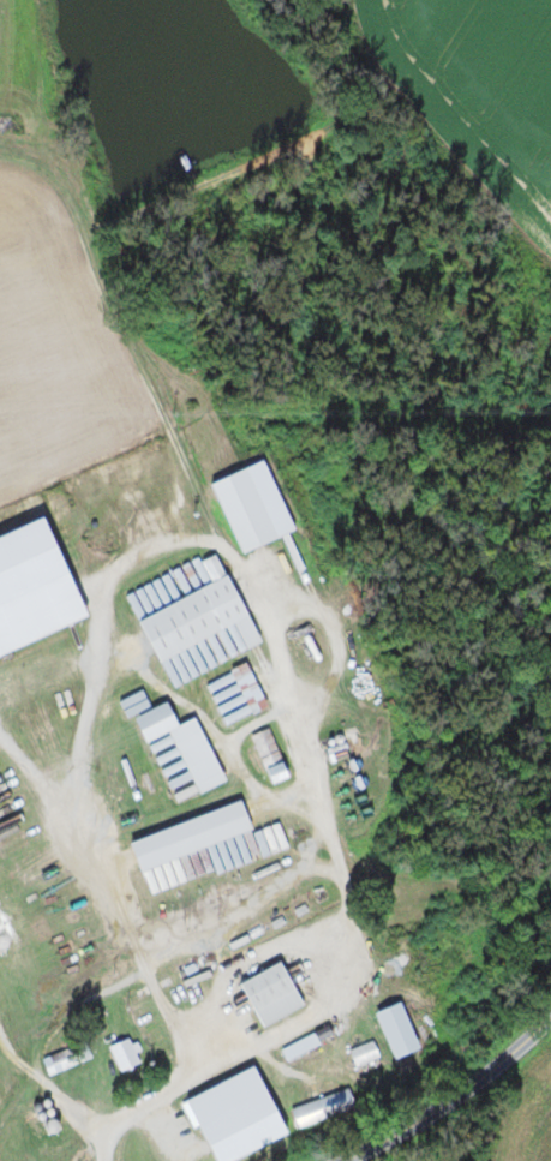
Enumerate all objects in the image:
building: (252, 505)
building: (35, 586)
building: (193, 617)
building: (236, 694)
building: (185, 743)
building: (270, 755)
building: (191, 834)
building: (214, 857)
building: (271, 994)
building: (397, 1030)
building: (364, 1052)
building: (126, 1054)
building: (58, 1061)
building: (323, 1107)
building: (235, 1117)
road: (456, 1118)

